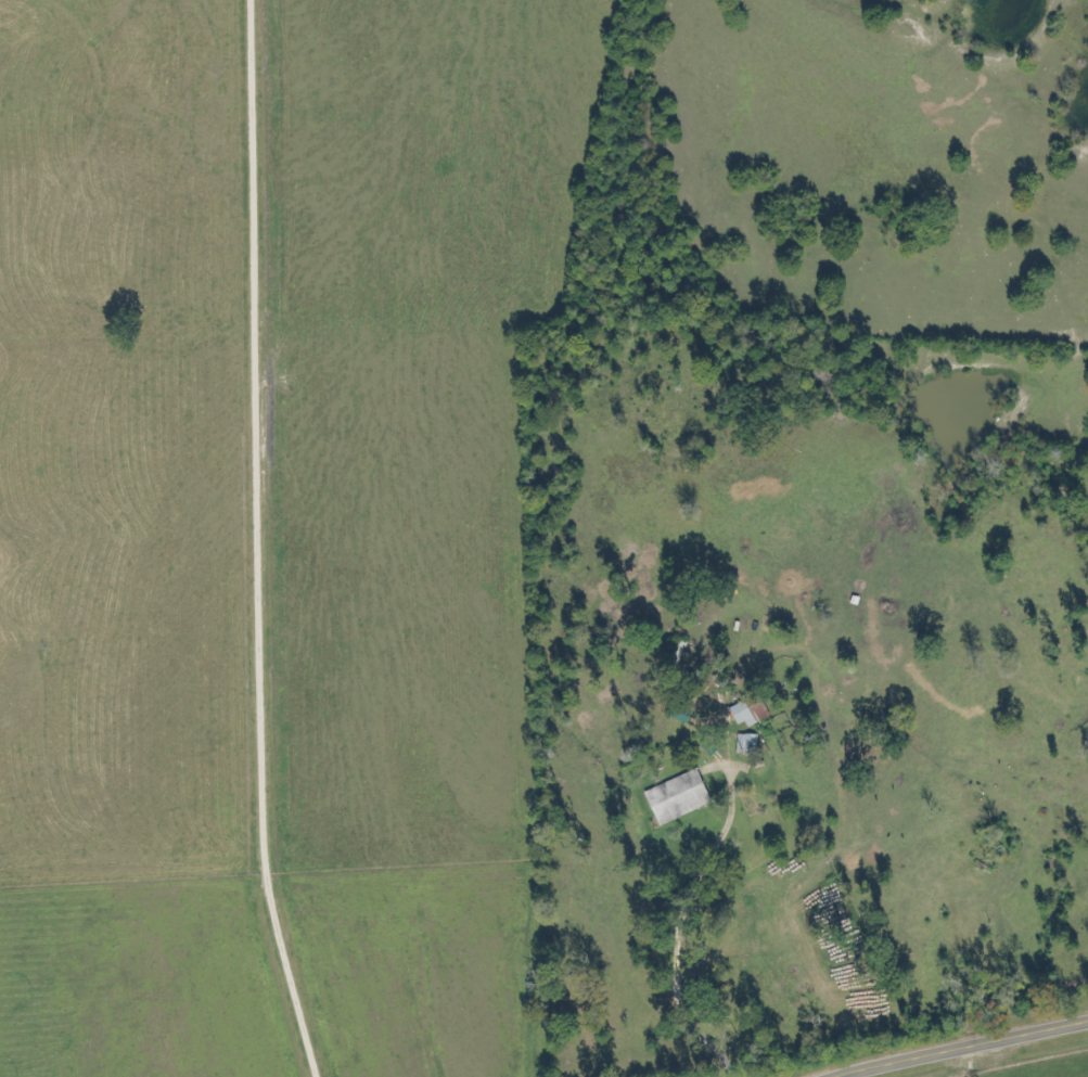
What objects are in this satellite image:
building: (677, 649)
building: (747, 710)
building: (743, 743)
building: (679, 794)
building: (802, 926)
road: (963, 1047)

